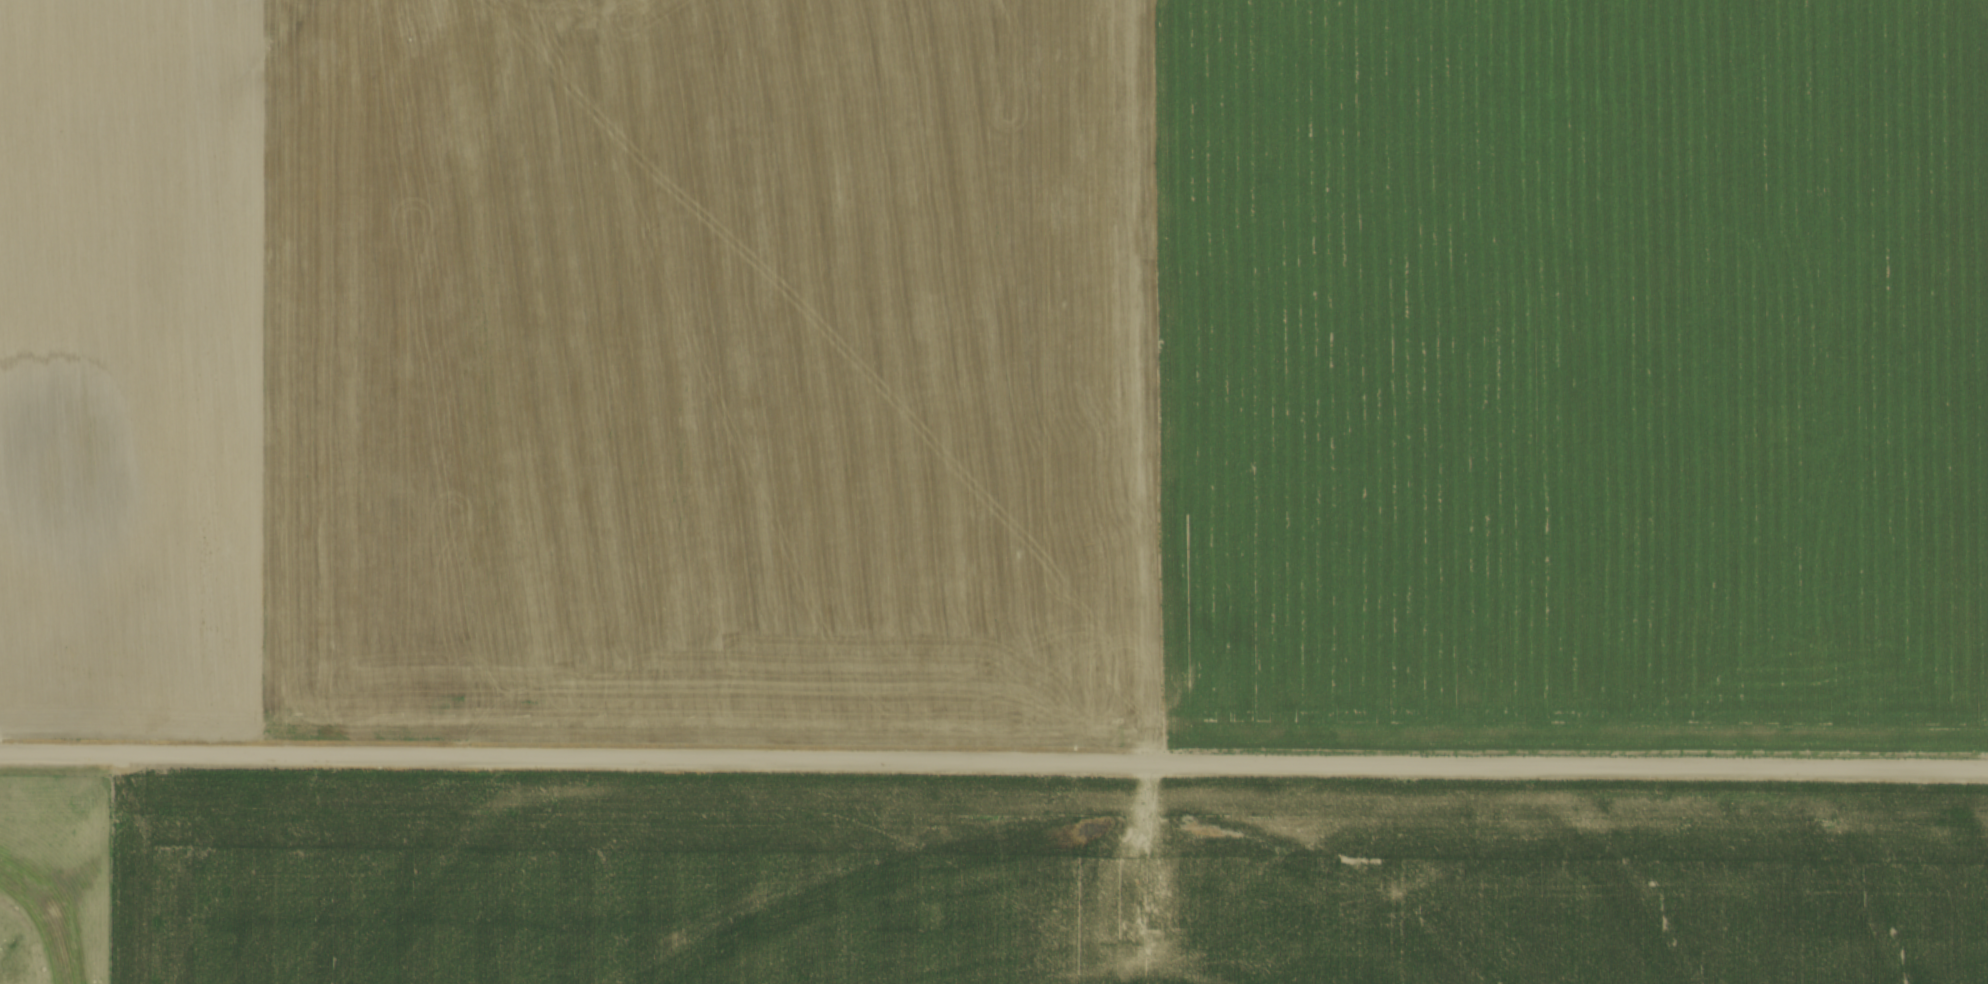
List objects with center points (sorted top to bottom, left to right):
road: (994, 758)

